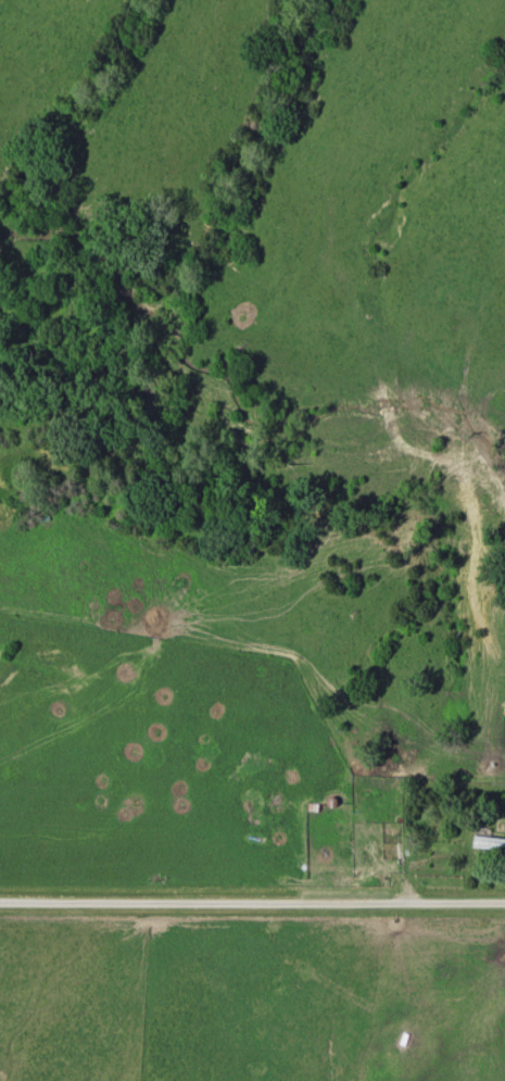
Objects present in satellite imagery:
building: (489, 844)
road: (252, 903)

